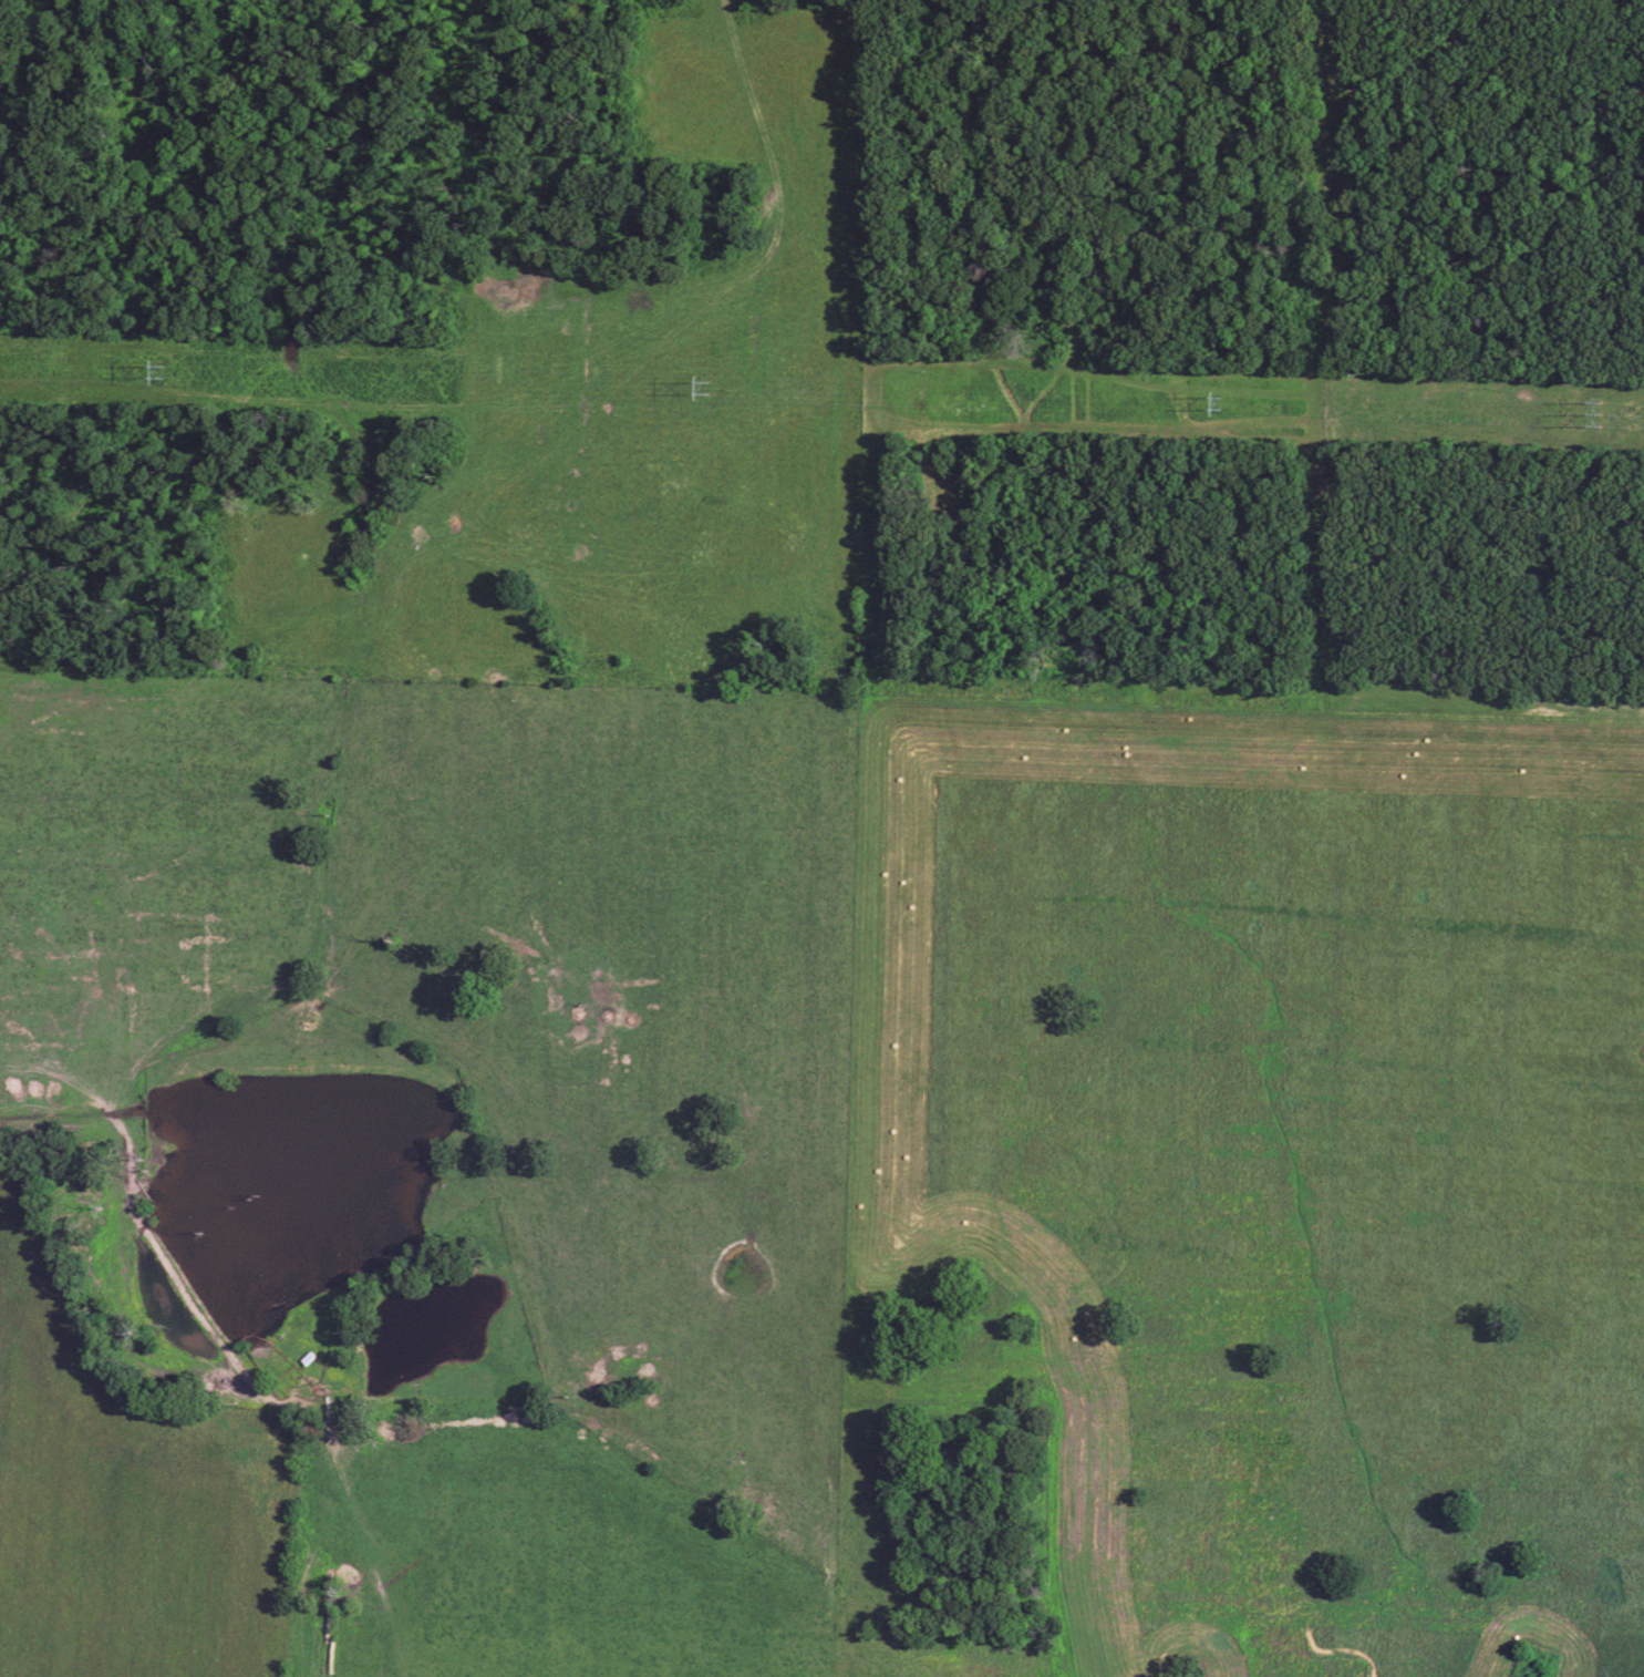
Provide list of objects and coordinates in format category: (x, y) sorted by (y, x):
power tower: (162, 374)
power tower: (706, 390)
power tower: (1221, 405)
power tower: (1598, 415)

